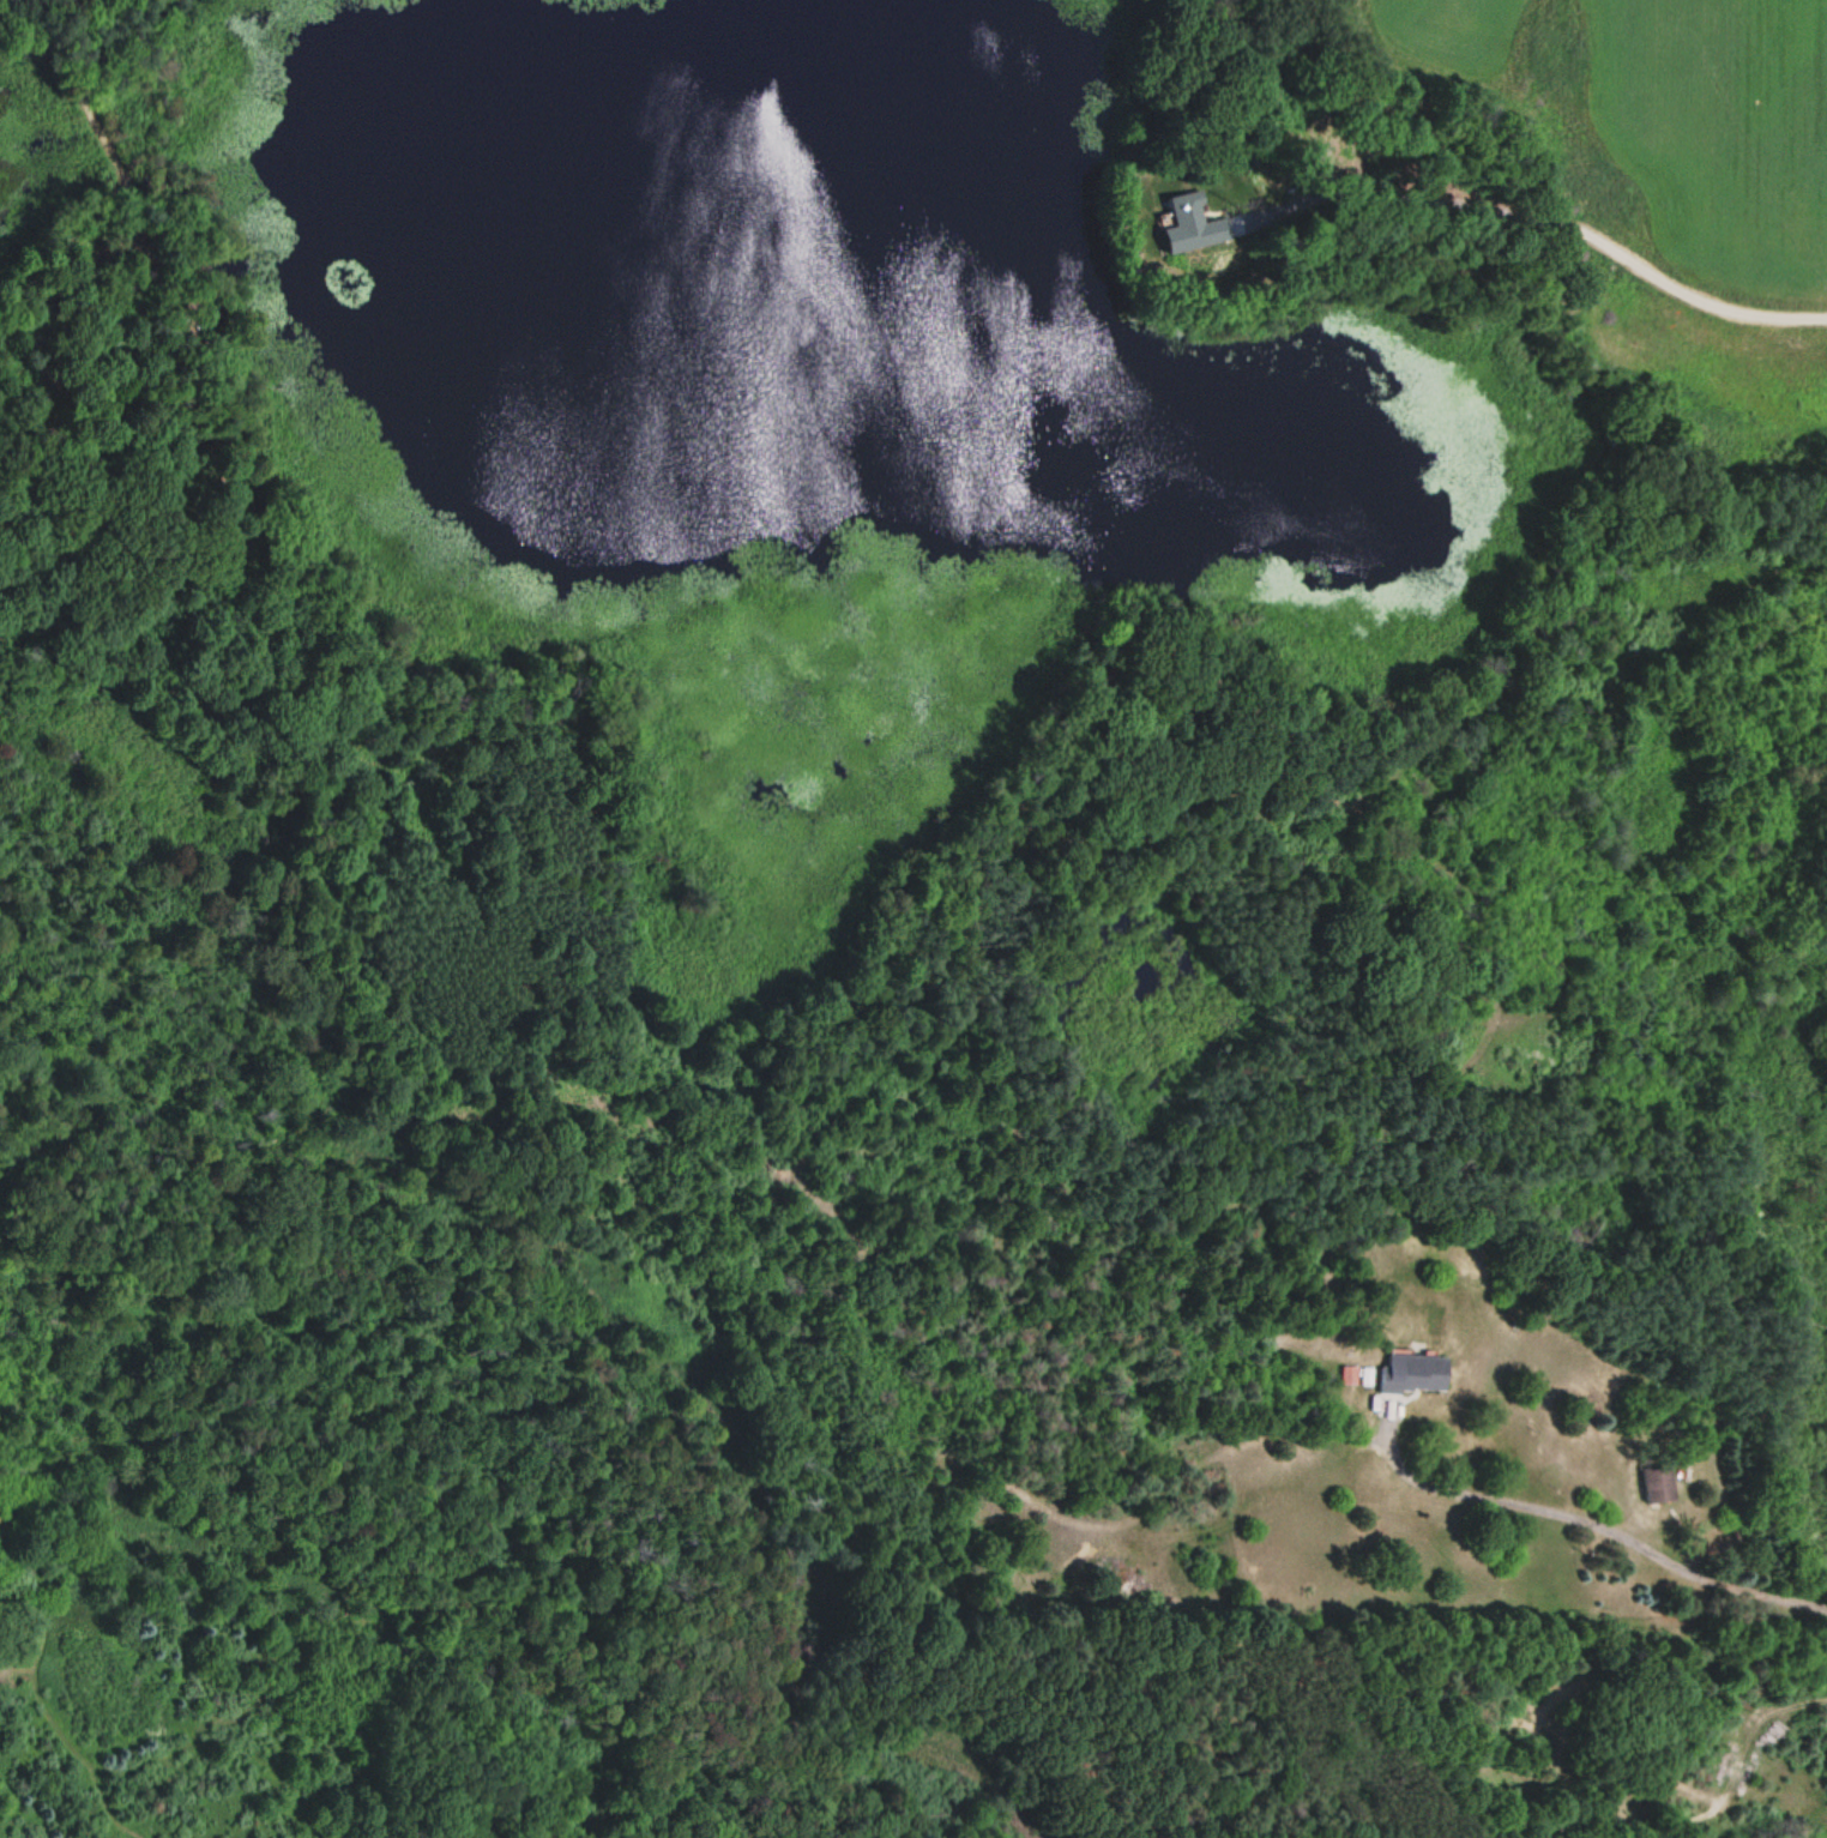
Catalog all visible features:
building: (1412, 1373)
building: (1657, 1483)

